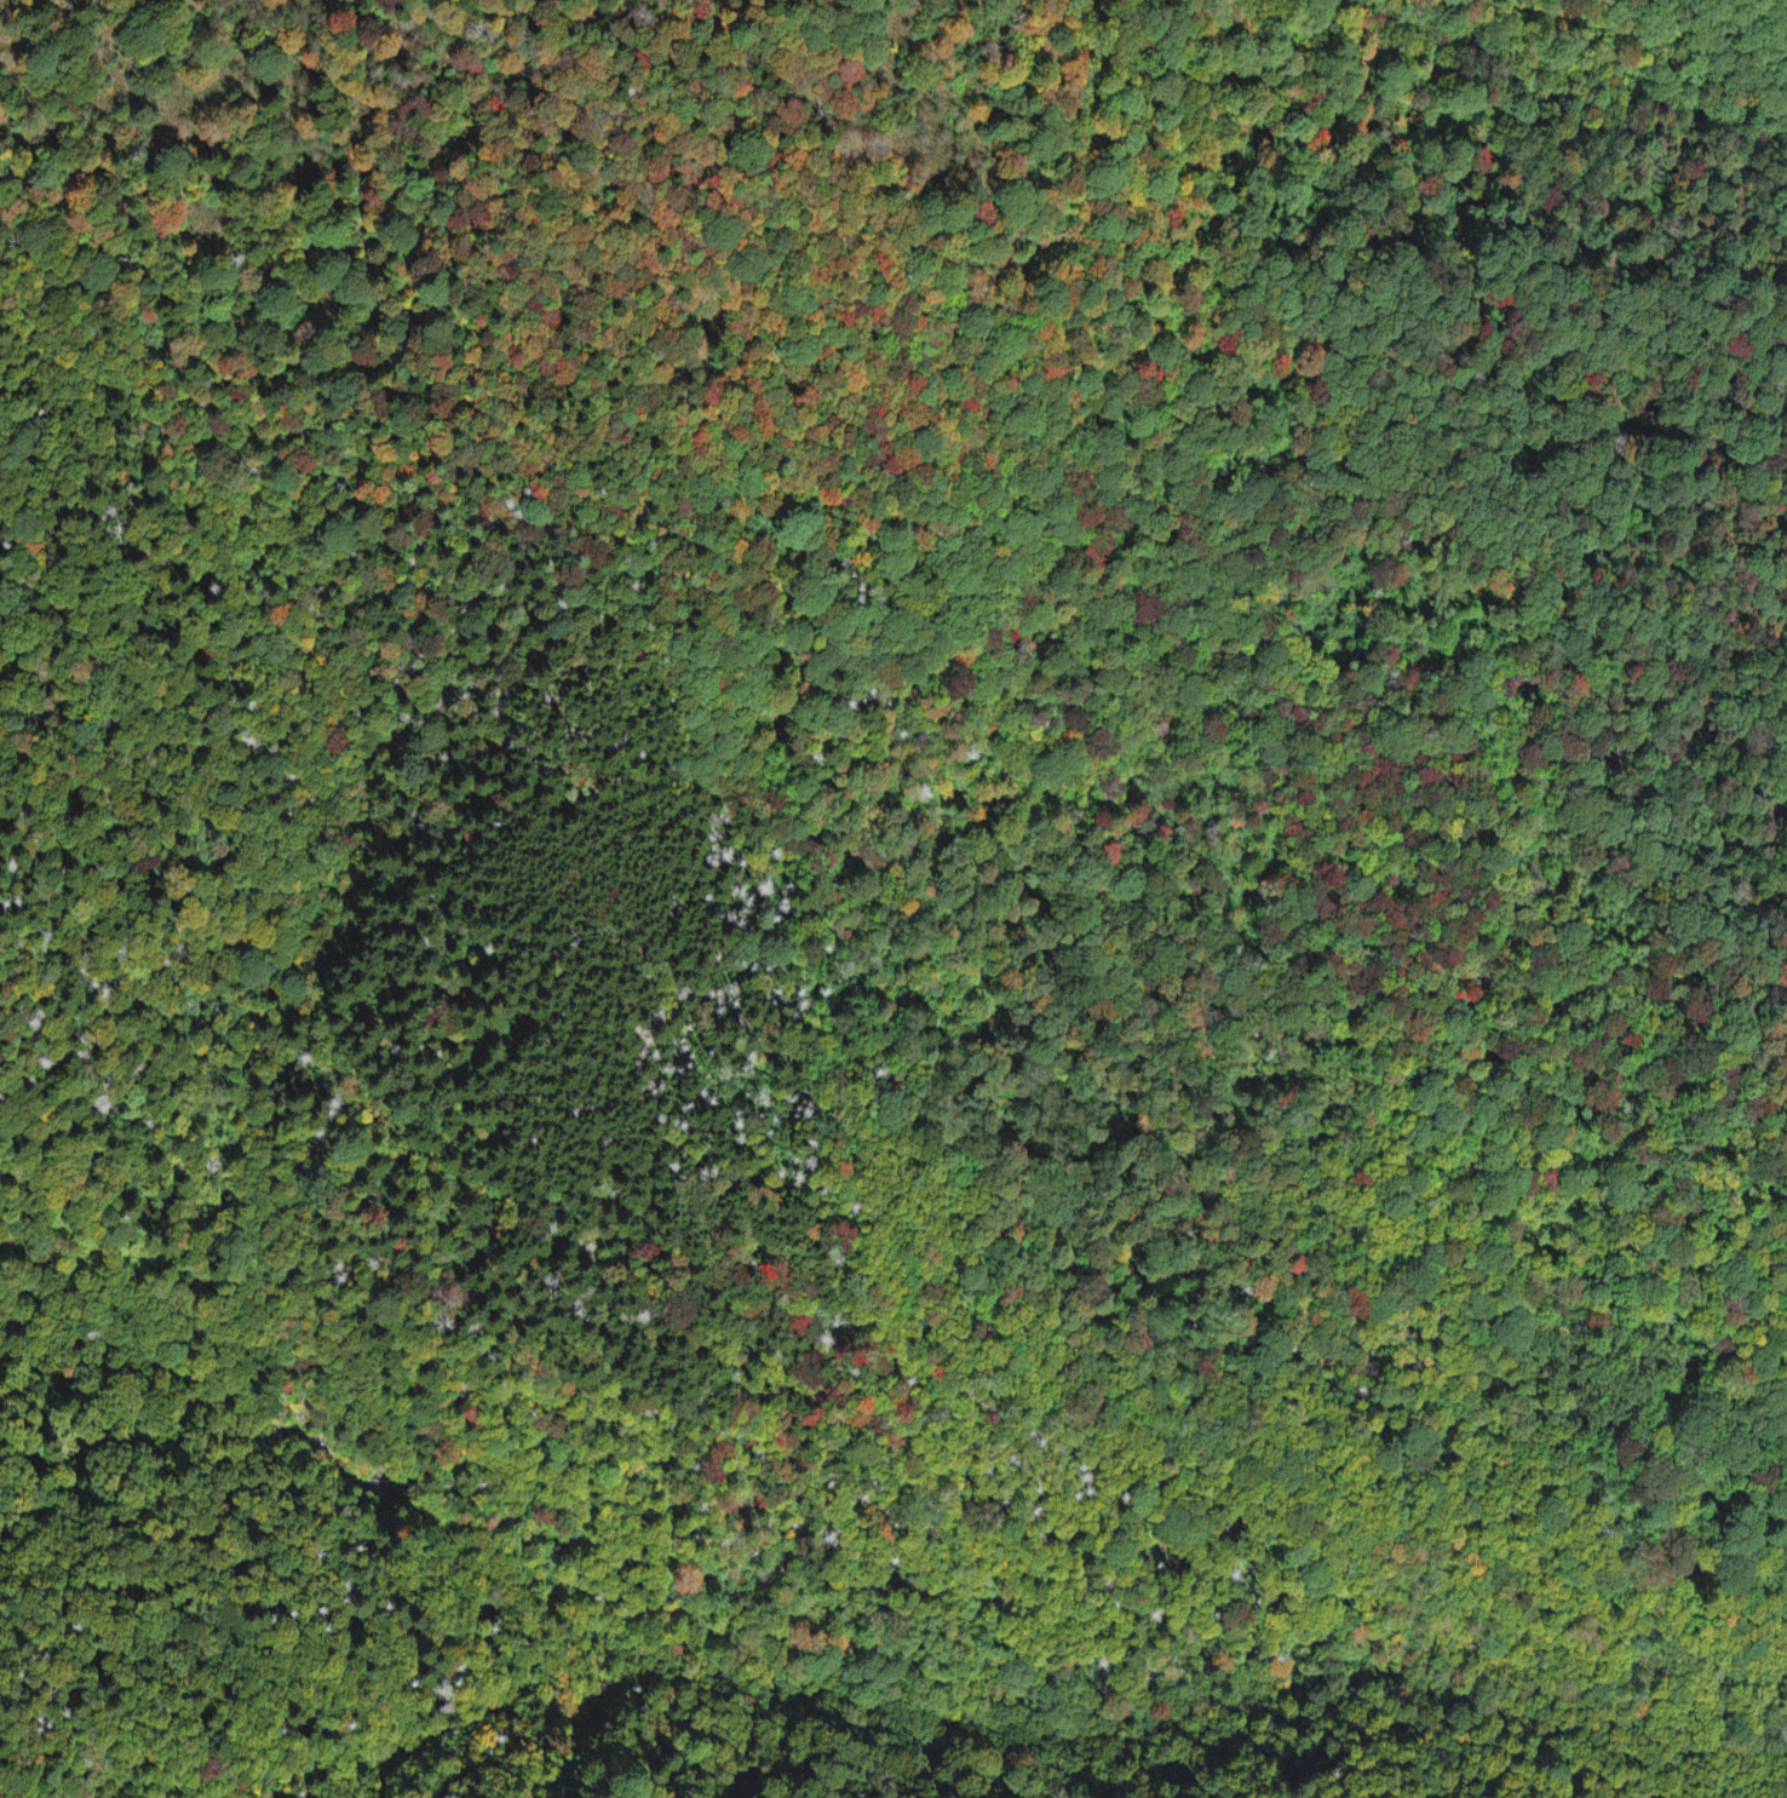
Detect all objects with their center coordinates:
river: (858, 1704)

